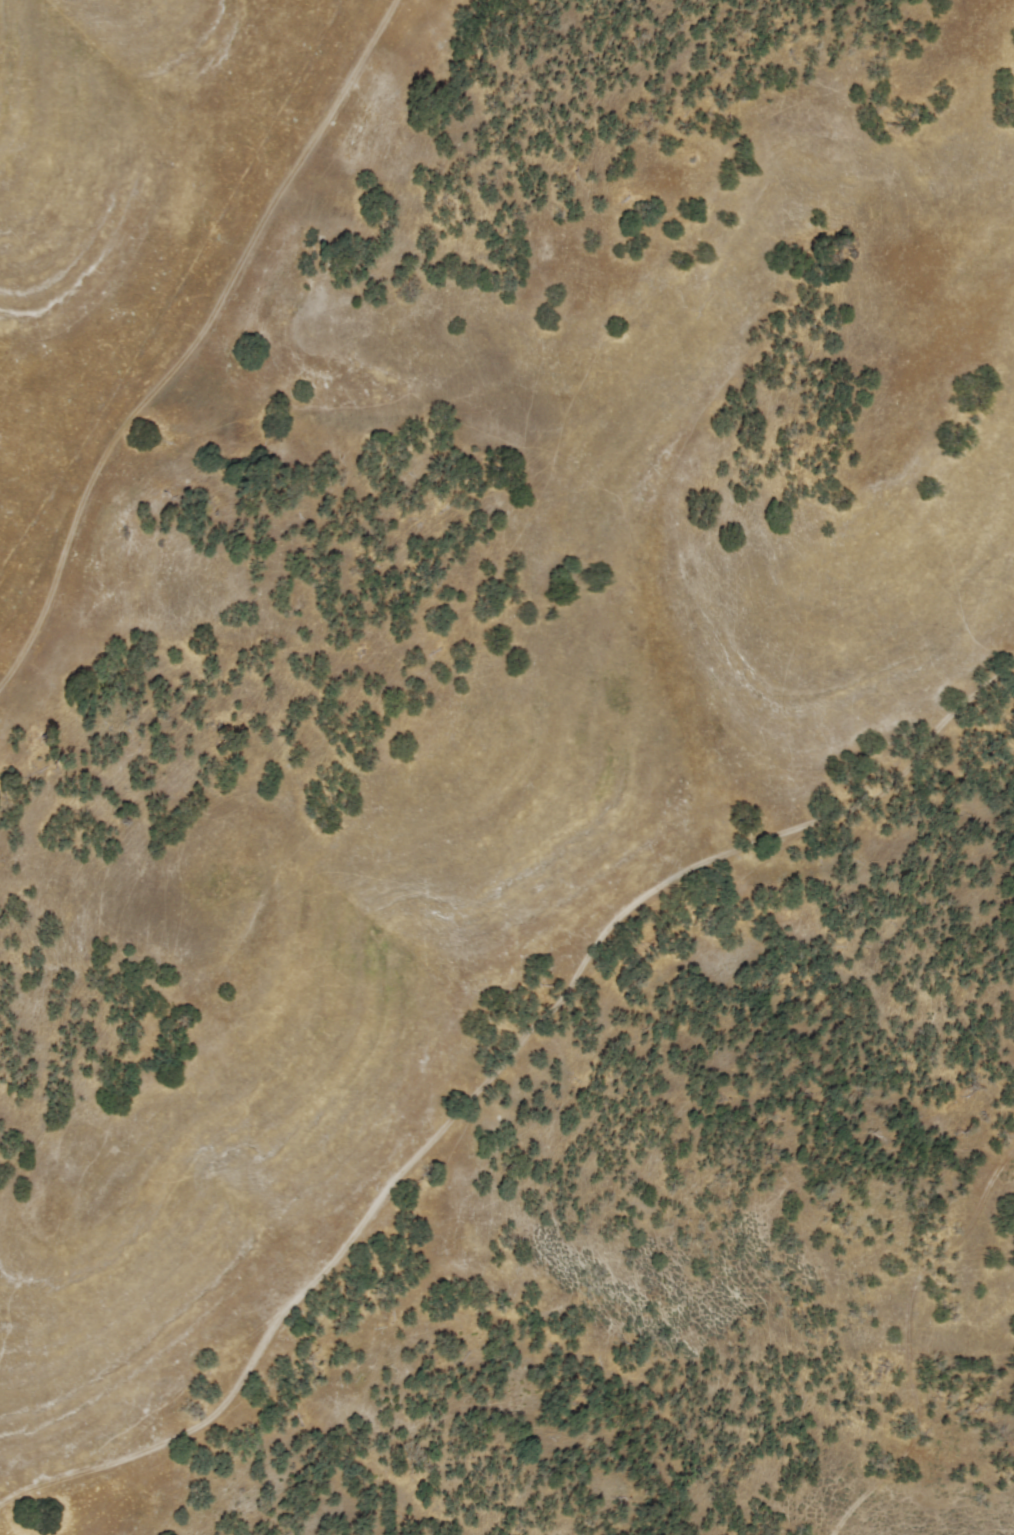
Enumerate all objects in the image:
road: (194, 344)
road: (494, 1078)
road: (853, 1511)

